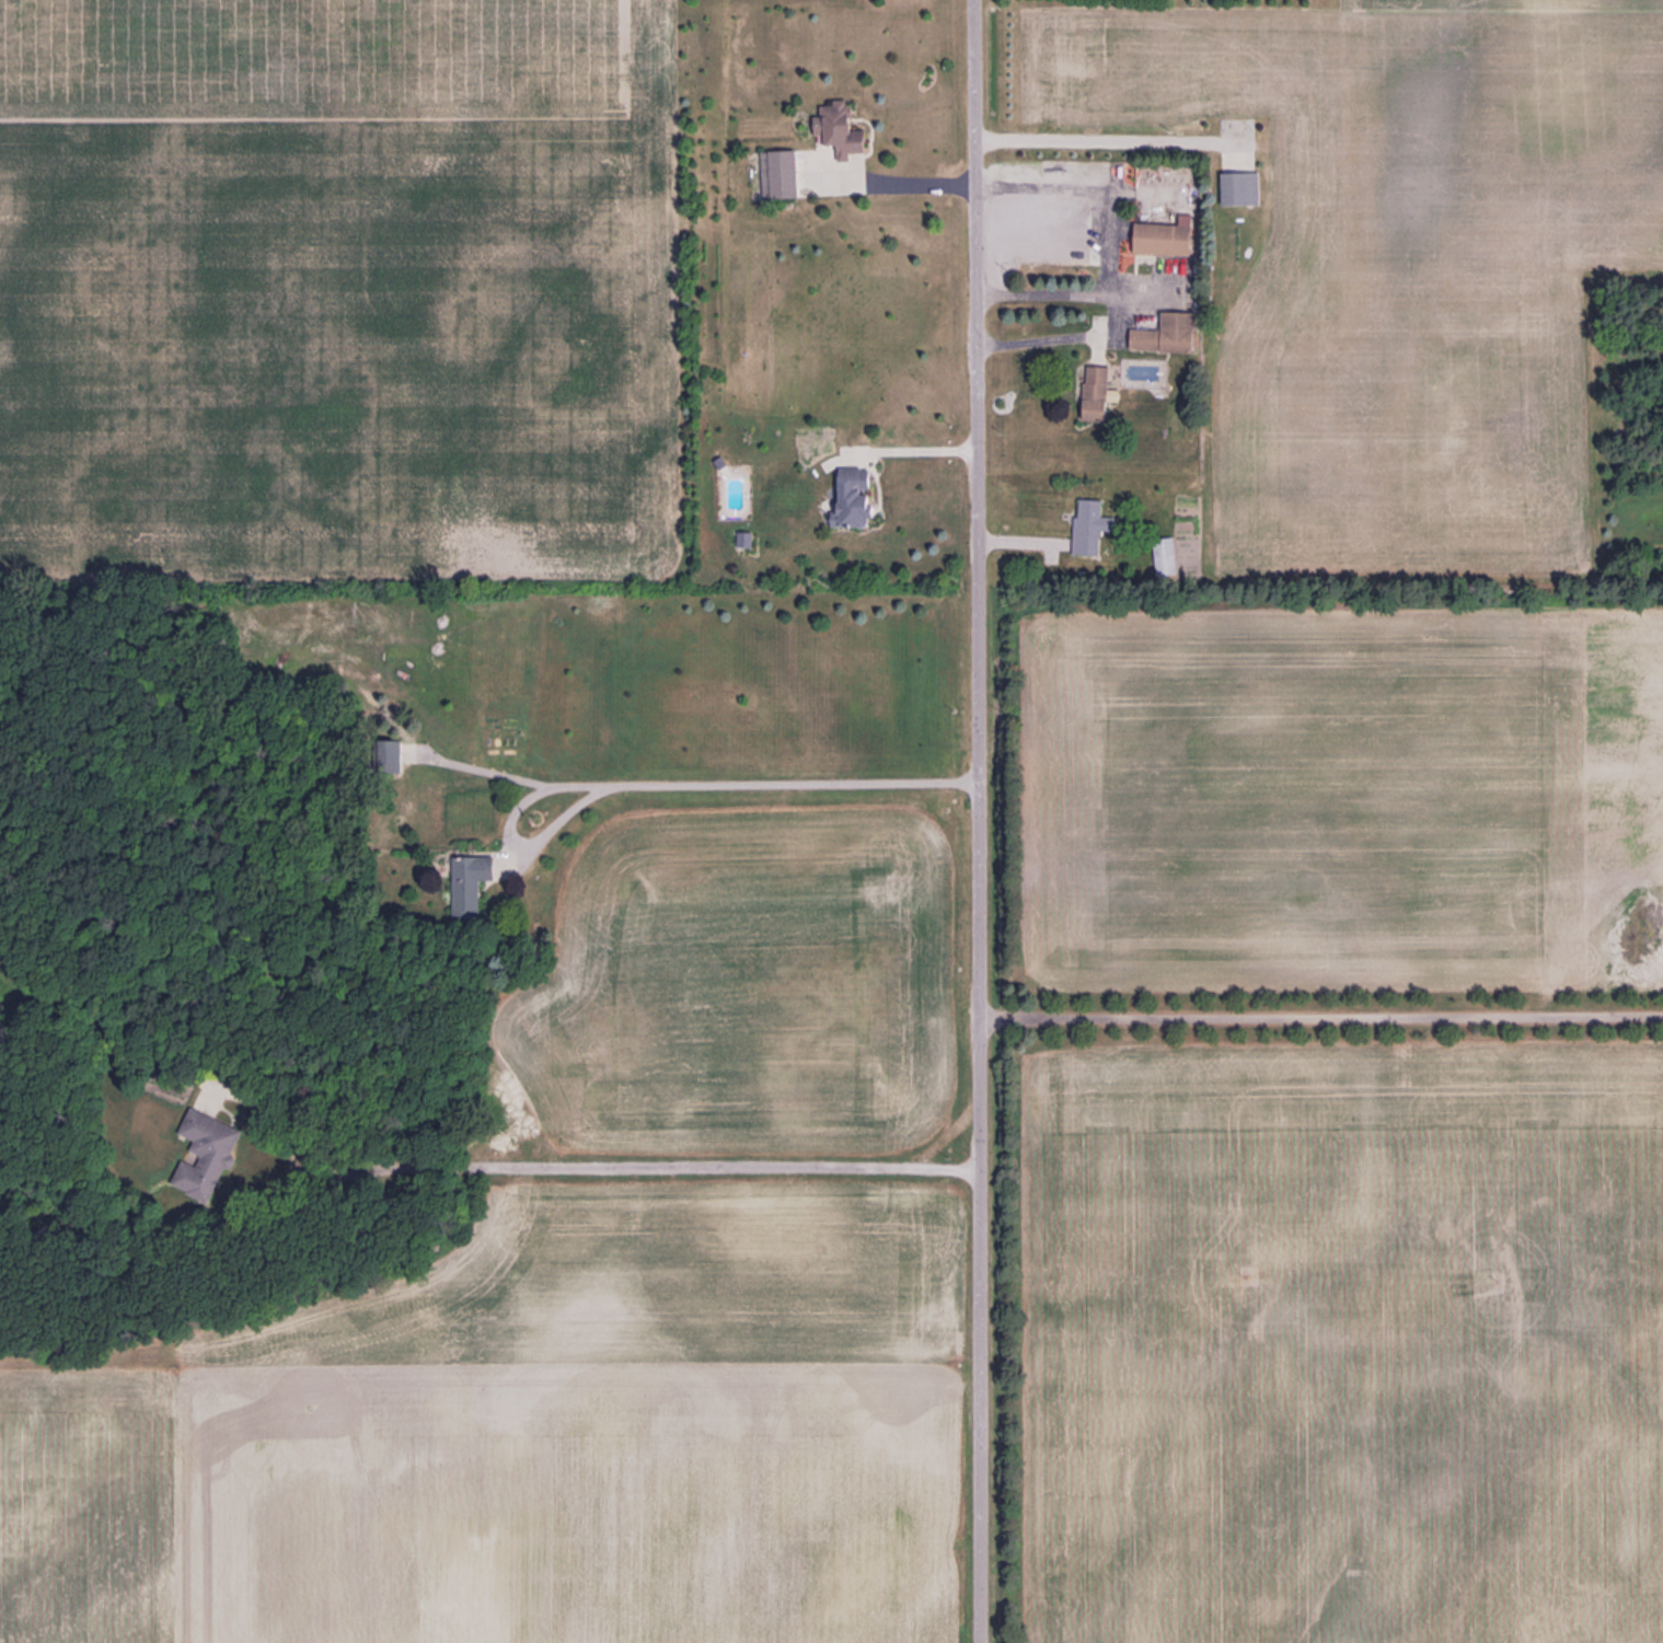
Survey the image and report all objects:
building: (842, 132)
building: (784, 175)
road: (911, 183)
building: (1243, 189)
building: (1168, 239)
road: (1105, 261)
road: (1075, 293)
building: (1170, 334)
building: (1100, 392)
building: (858, 496)
building: (1090, 527)
building: (1166, 555)
road: (665, 780)
road: (980, 821)
building: (472, 880)
road: (1321, 1018)
building: (211, 1142)

